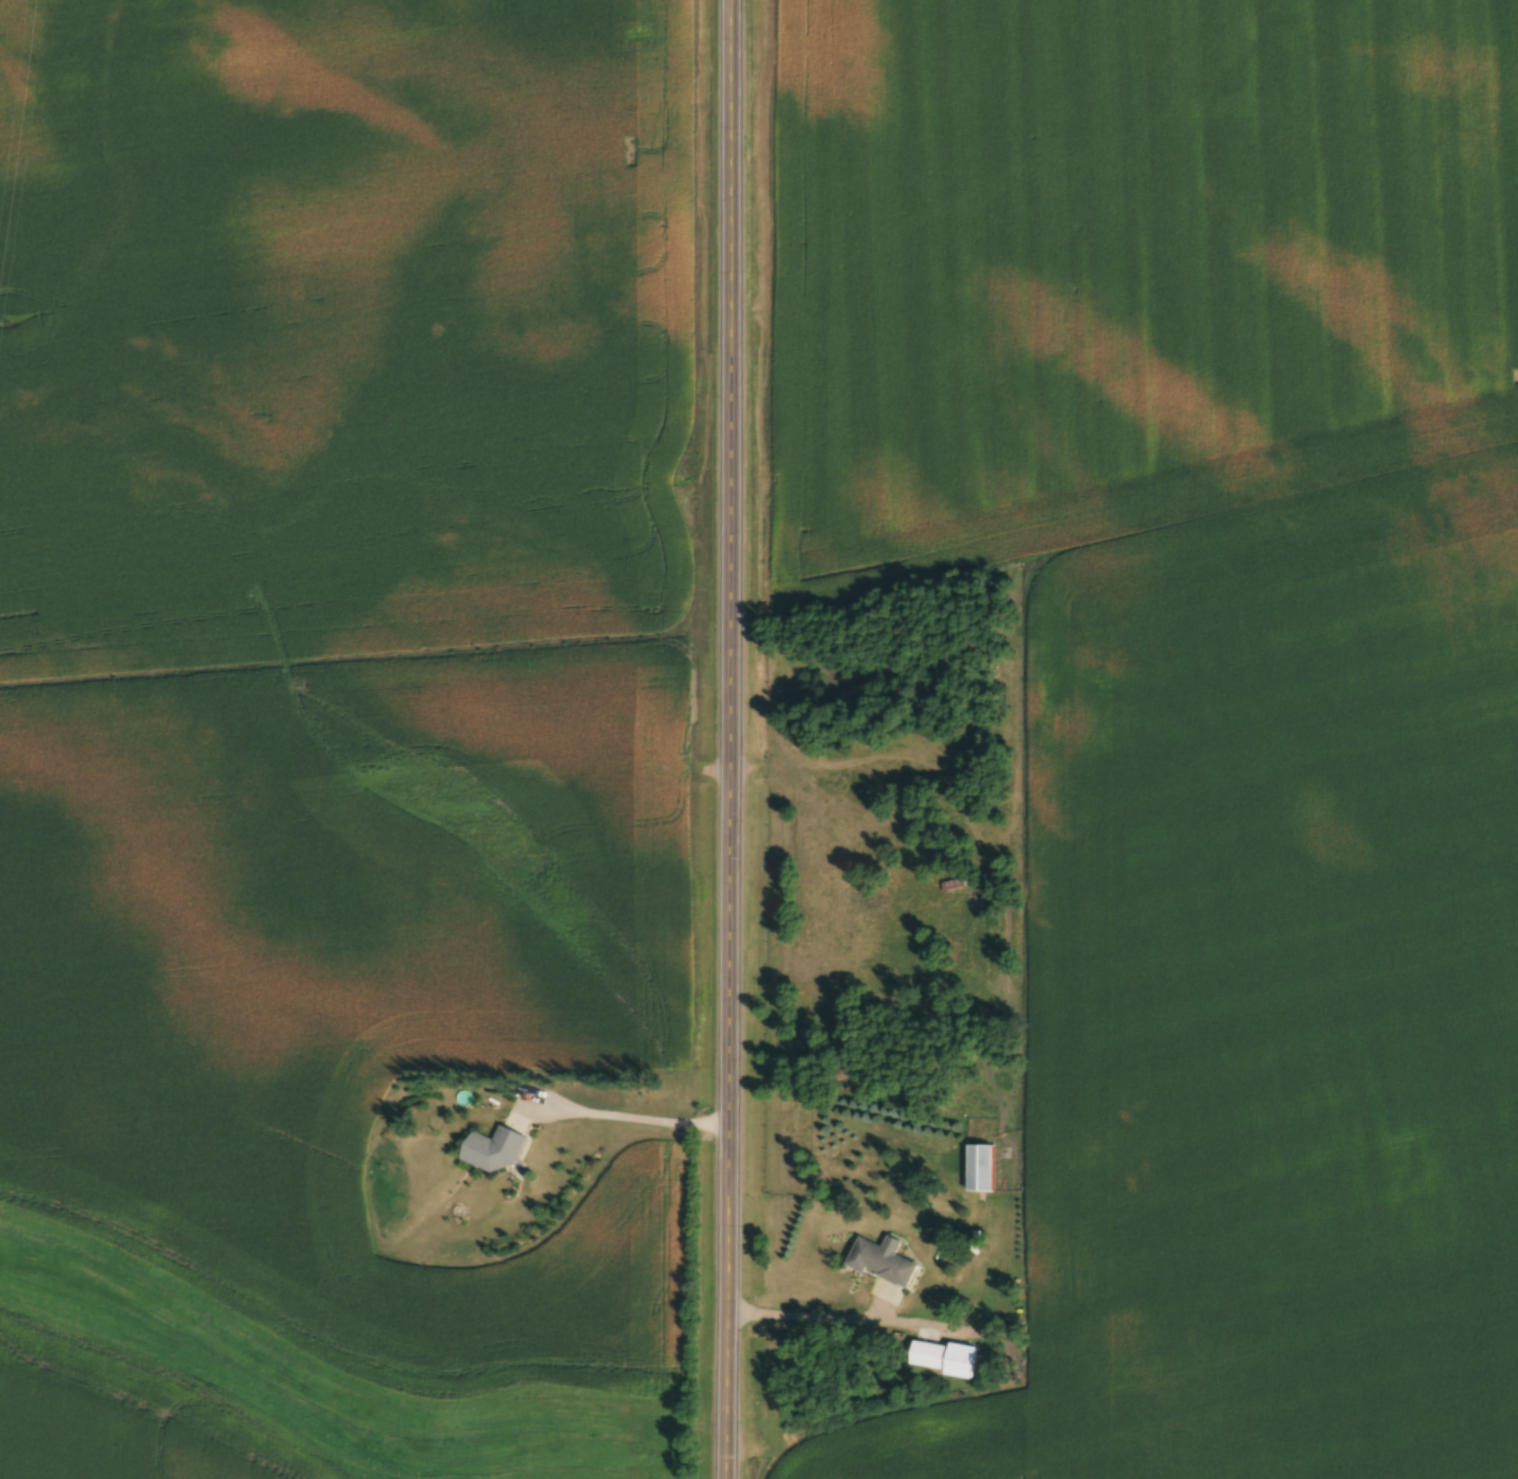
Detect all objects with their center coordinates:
crop: (1128, 262)
power tower: (4, 323)
crop: (338, 332)
road: (721, 739)
road: (627, 1119)
building: (497, 1151)
building: (981, 1169)
building: (884, 1262)
road: (802, 1317)
building: (929, 1354)

